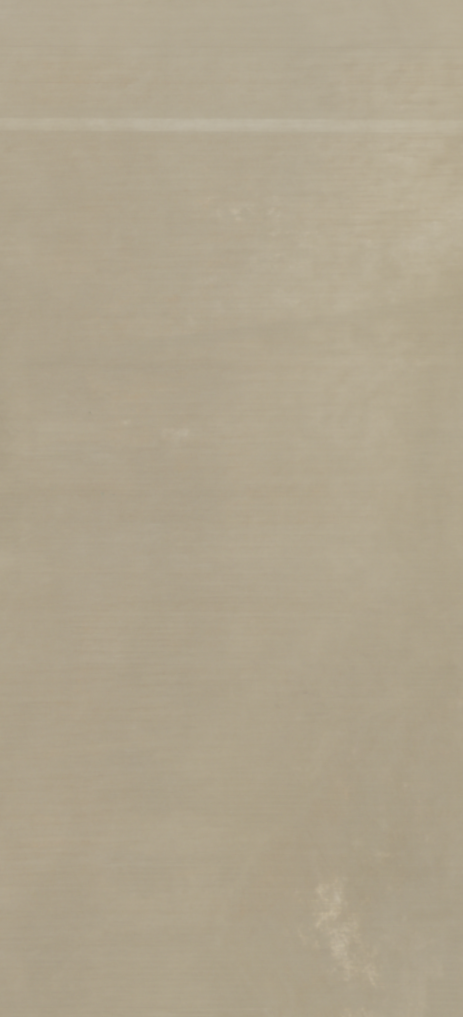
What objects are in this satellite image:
crop: (231, 508)

